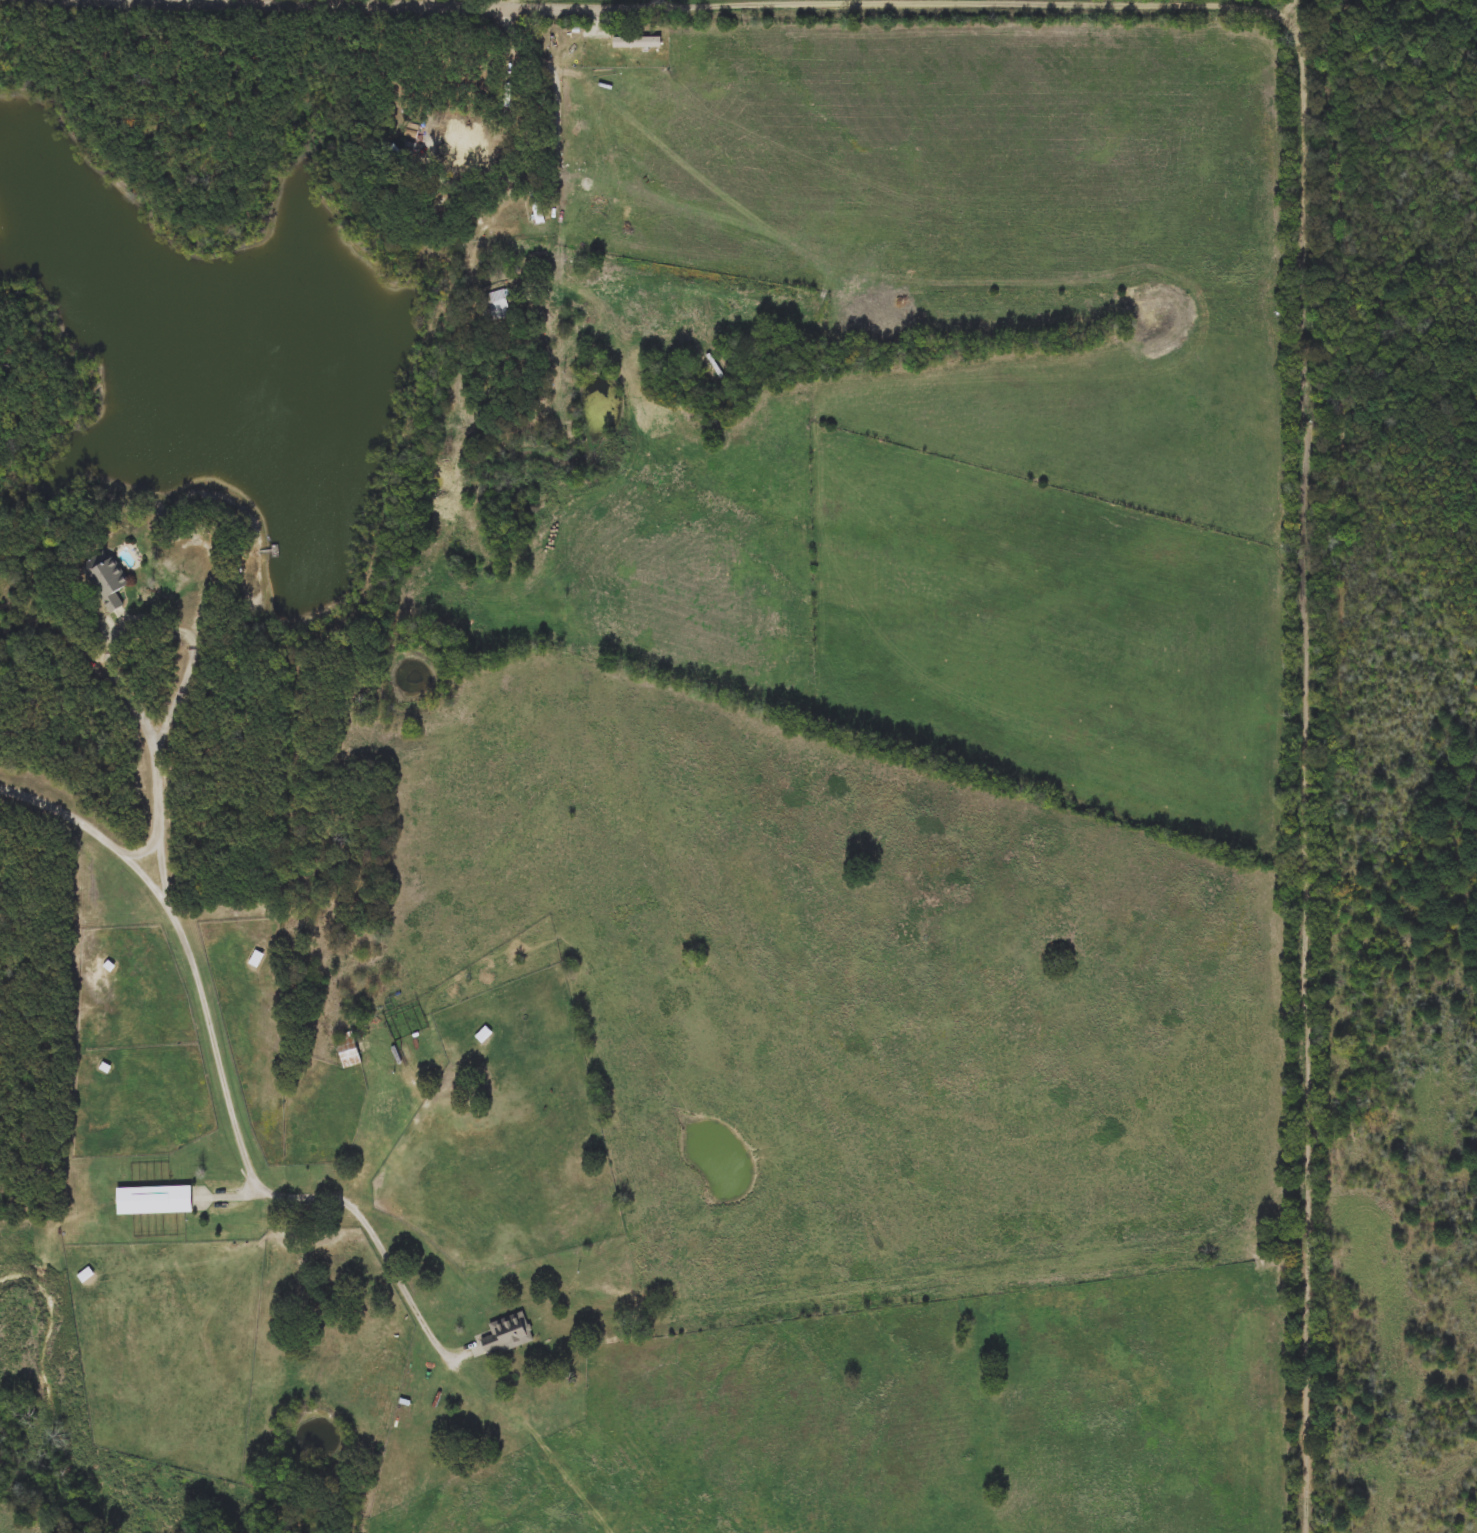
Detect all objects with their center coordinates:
road: (659, 2)
road: (638, 3)
building: (638, 41)
building: (567, 96)
building: (580, 124)
building: (457, 138)
road: (554, 150)
building: (536, 206)
building: (495, 305)
road: (1306, 574)
building: (107, 581)
road: (98, 660)
road: (201, 984)
building: (348, 1050)
road: (388, 1136)
building: (158, 1200)
building: (88, 1275)
road: (403, 1283)
dam: (6, 1298)
building: (508, 1334)
road: (253, 1451)

